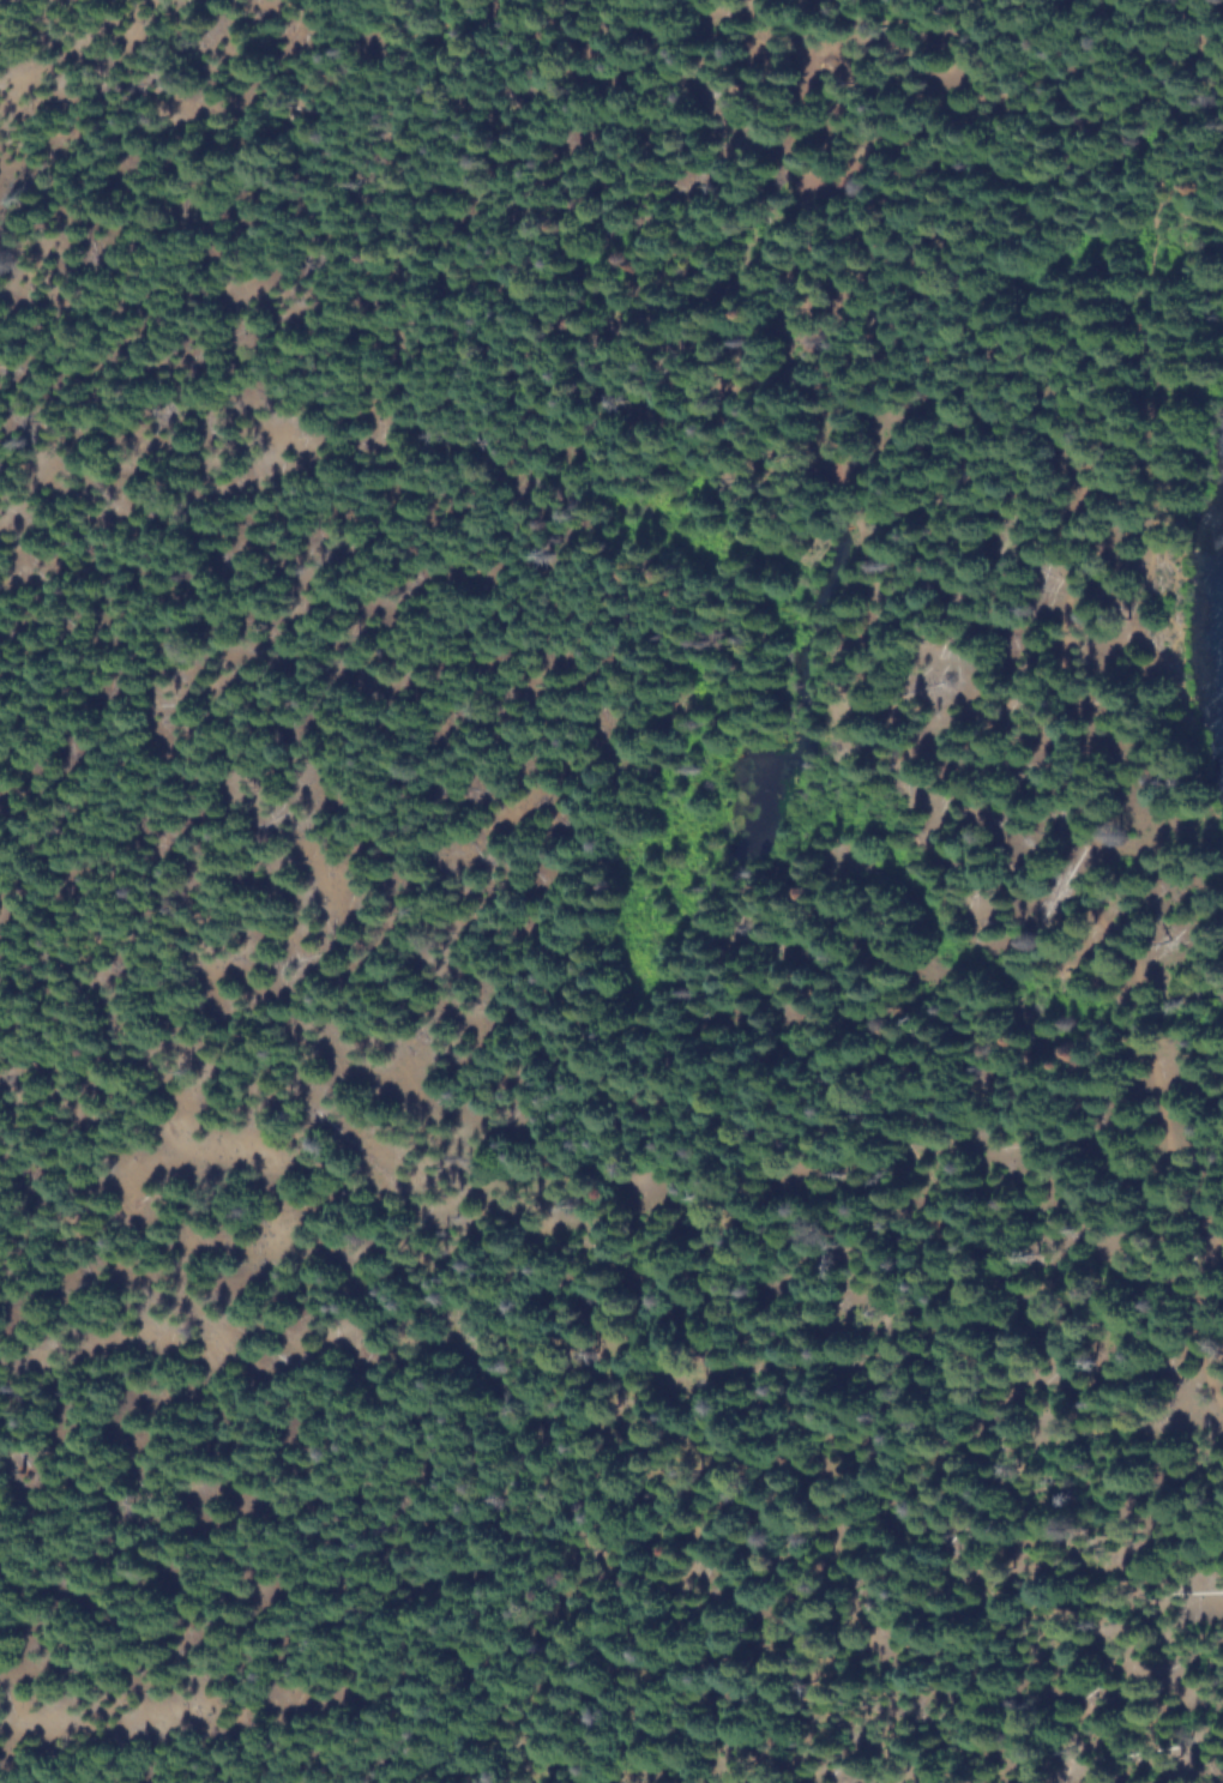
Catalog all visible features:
river: (1218, 613)
road: (1068, 707)

